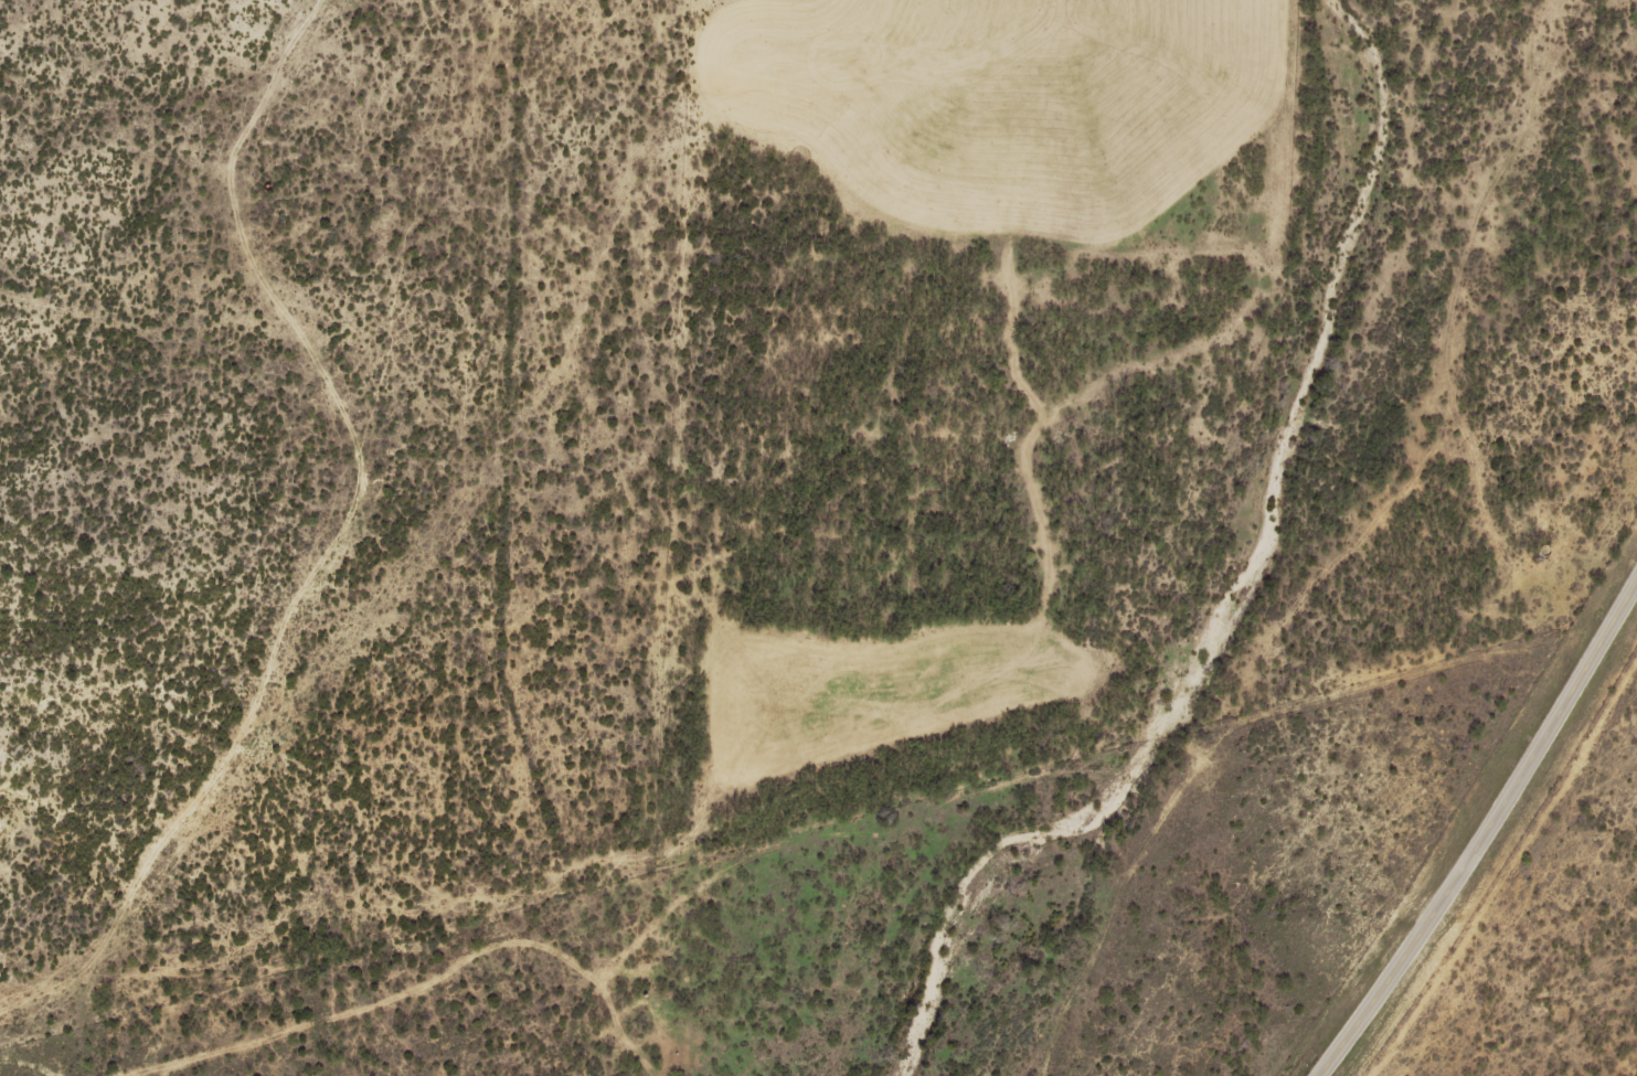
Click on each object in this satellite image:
road: (347, 583)
road: (1486, 834)

